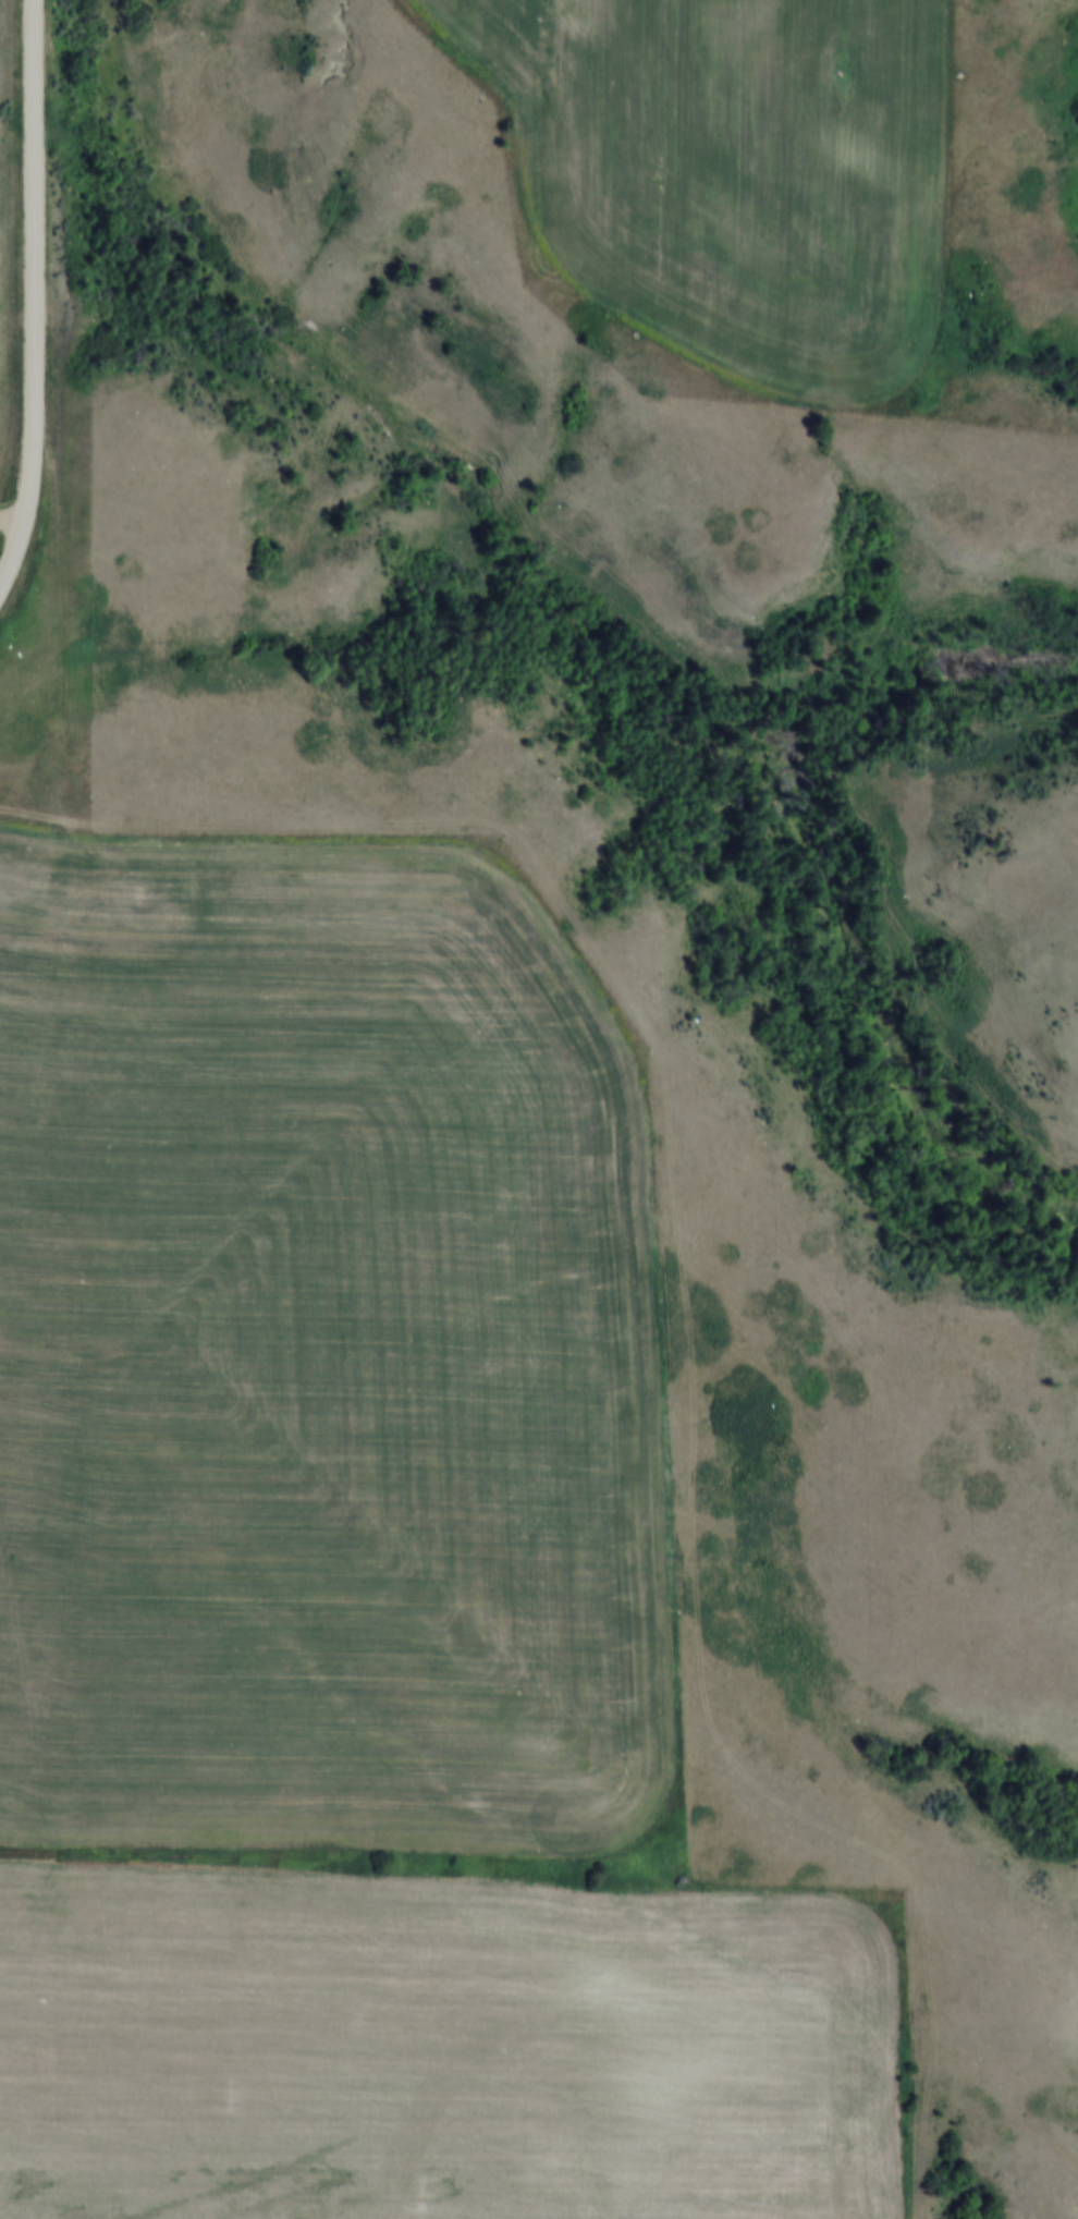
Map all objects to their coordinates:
road: (33, 71)
road: (32, 366)
road: (672, 1234)

